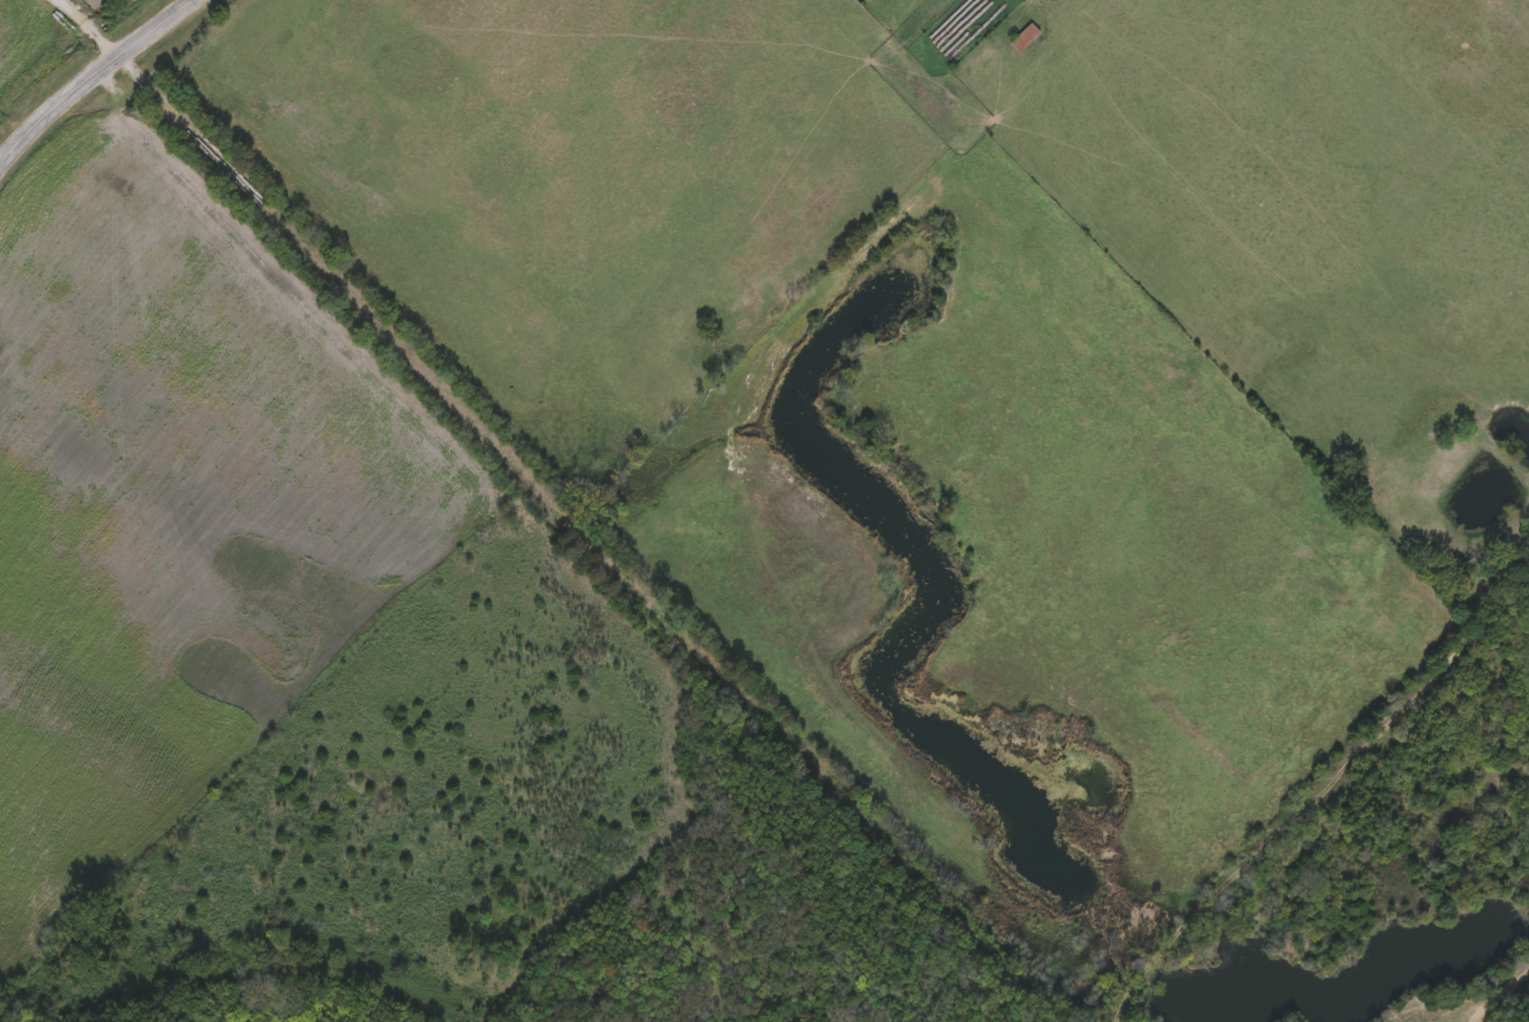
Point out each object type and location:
building: (1024, 35)
building: (974, 57)
road: (97, 83)
road: (552, 503)
road: (1318, 802)
road: (1495, 988)

